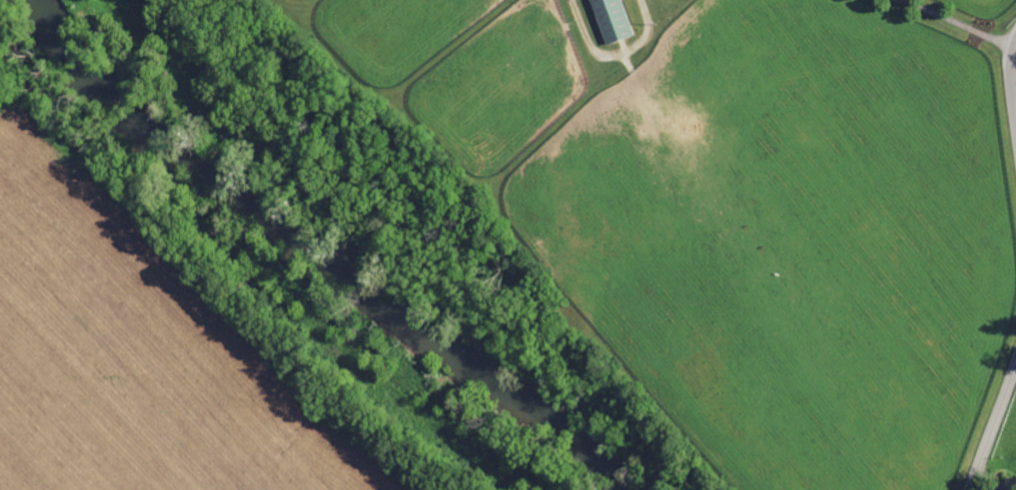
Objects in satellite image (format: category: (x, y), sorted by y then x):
building: (611, 20)
road: (957, 23)
road: (613, 54)
road: (1012, 82)
river: (306, 234)
road: (992, 417)
building: (1004, 486)

